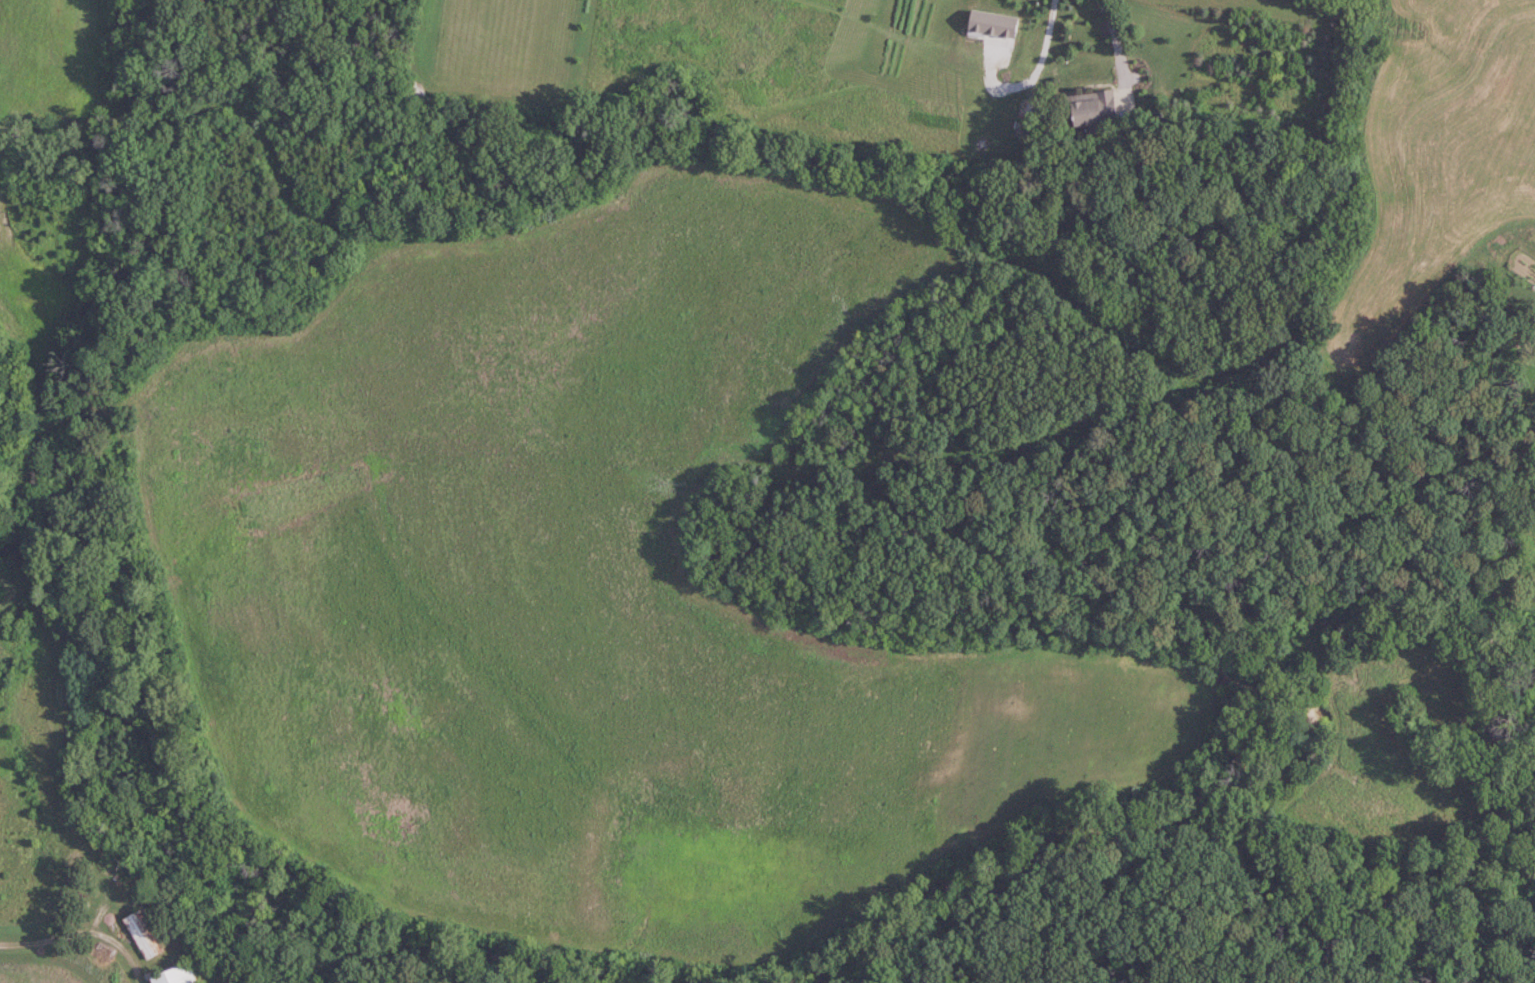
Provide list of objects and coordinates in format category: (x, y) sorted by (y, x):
road: (1117, 45)
road: (1032, 76)
building: (1096, 108)
road: (79, 931)
building: (144, 934)
building: (178, 974)

